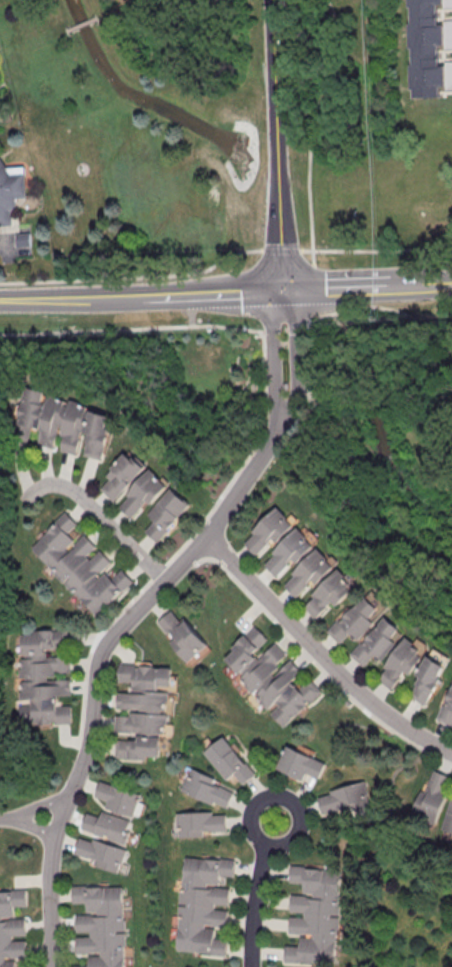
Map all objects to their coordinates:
building: (424, 49)
road: (274, 80)
road: (306, 125)
building: (10, 190)
road: (280, 224)
building: (24, 240)
road: (382, 249)
road: (281, 250)
road: (306, 250)
road: (312, 269)
road: (133, 275)
road: (426, 282)
road: (341, 286)
traffic signals: (283, 290)
road: (215, 292)
road: (74, 296)
road: (349, 309)
road: (411, 315)
road: (166, 326)
road: (272, 358)
road: (296, 361)
building: (67, 423)
building: (121, 475)
building: (142, 494)
road: (97, 512)
building: (165, 513)
building: (269, 529)
building: (290, 550)
building: (79, 564)
building: (309, 570)
building: (329, 592)
building: (356, 619)
building: (179, 634)
building: (377, 641)
road: (321, 653)
building: (401, 662)
road: (99, 670)
building: (269, 675)
building: (45, 676)
building: (428, 679)
building: (447, 708)
building: (142, 709)
building: (229, 760)
building: (299, 763)
building: (209, 789)
building: (434, 791)
building: (119, 797)
building: (344, 797)
road: (281, 798)
road: (38, 807)
building: (448, 819)
road: (3, 820)
building: (202, 823)
building: (107, 825)
road: (31, 827)
building: (99, 852)
road: (256, 902)
building: (202, 905)
building: (315, 914)
building: (102, 924)
building: (11, 926)

